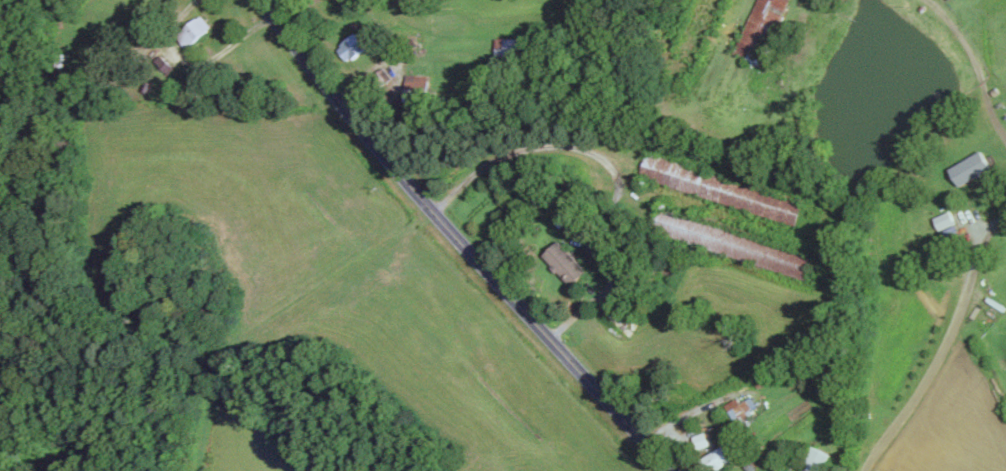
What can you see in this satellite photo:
building: (762, 26)
building: (195, 30)
road: (963, 43)
building: (352, 46)
building: (510, 47)
road: (198, 62)
building: (416, 84)
road: (994, 115)
building: (972, 167)
road: (609, 170)
building: (946, 219)
road: (460, 241)
building: (566, 262)
road: (943, 344)
building: (742, 407)
building: (718, 458)
building: (818, 459)

